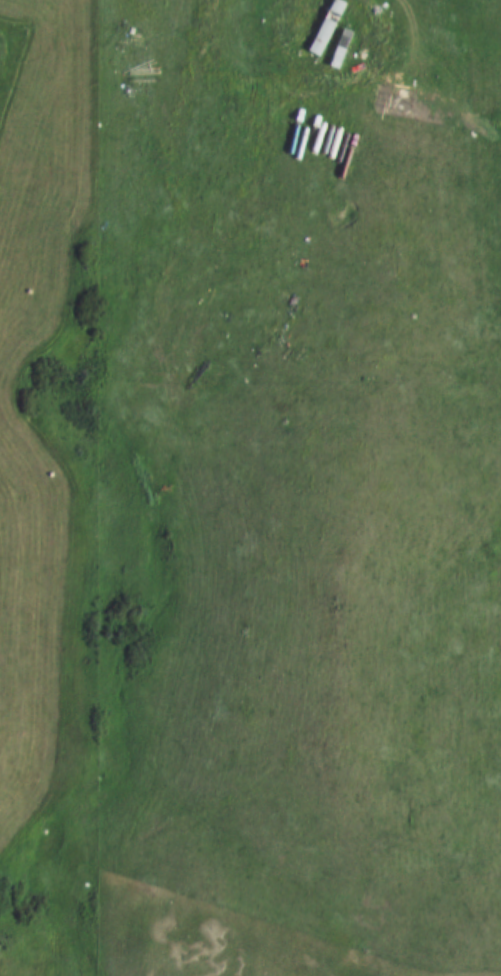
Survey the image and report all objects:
building: (312, 13)
building: (320, 23)
building: (359, 33)
building: (336, 43)

